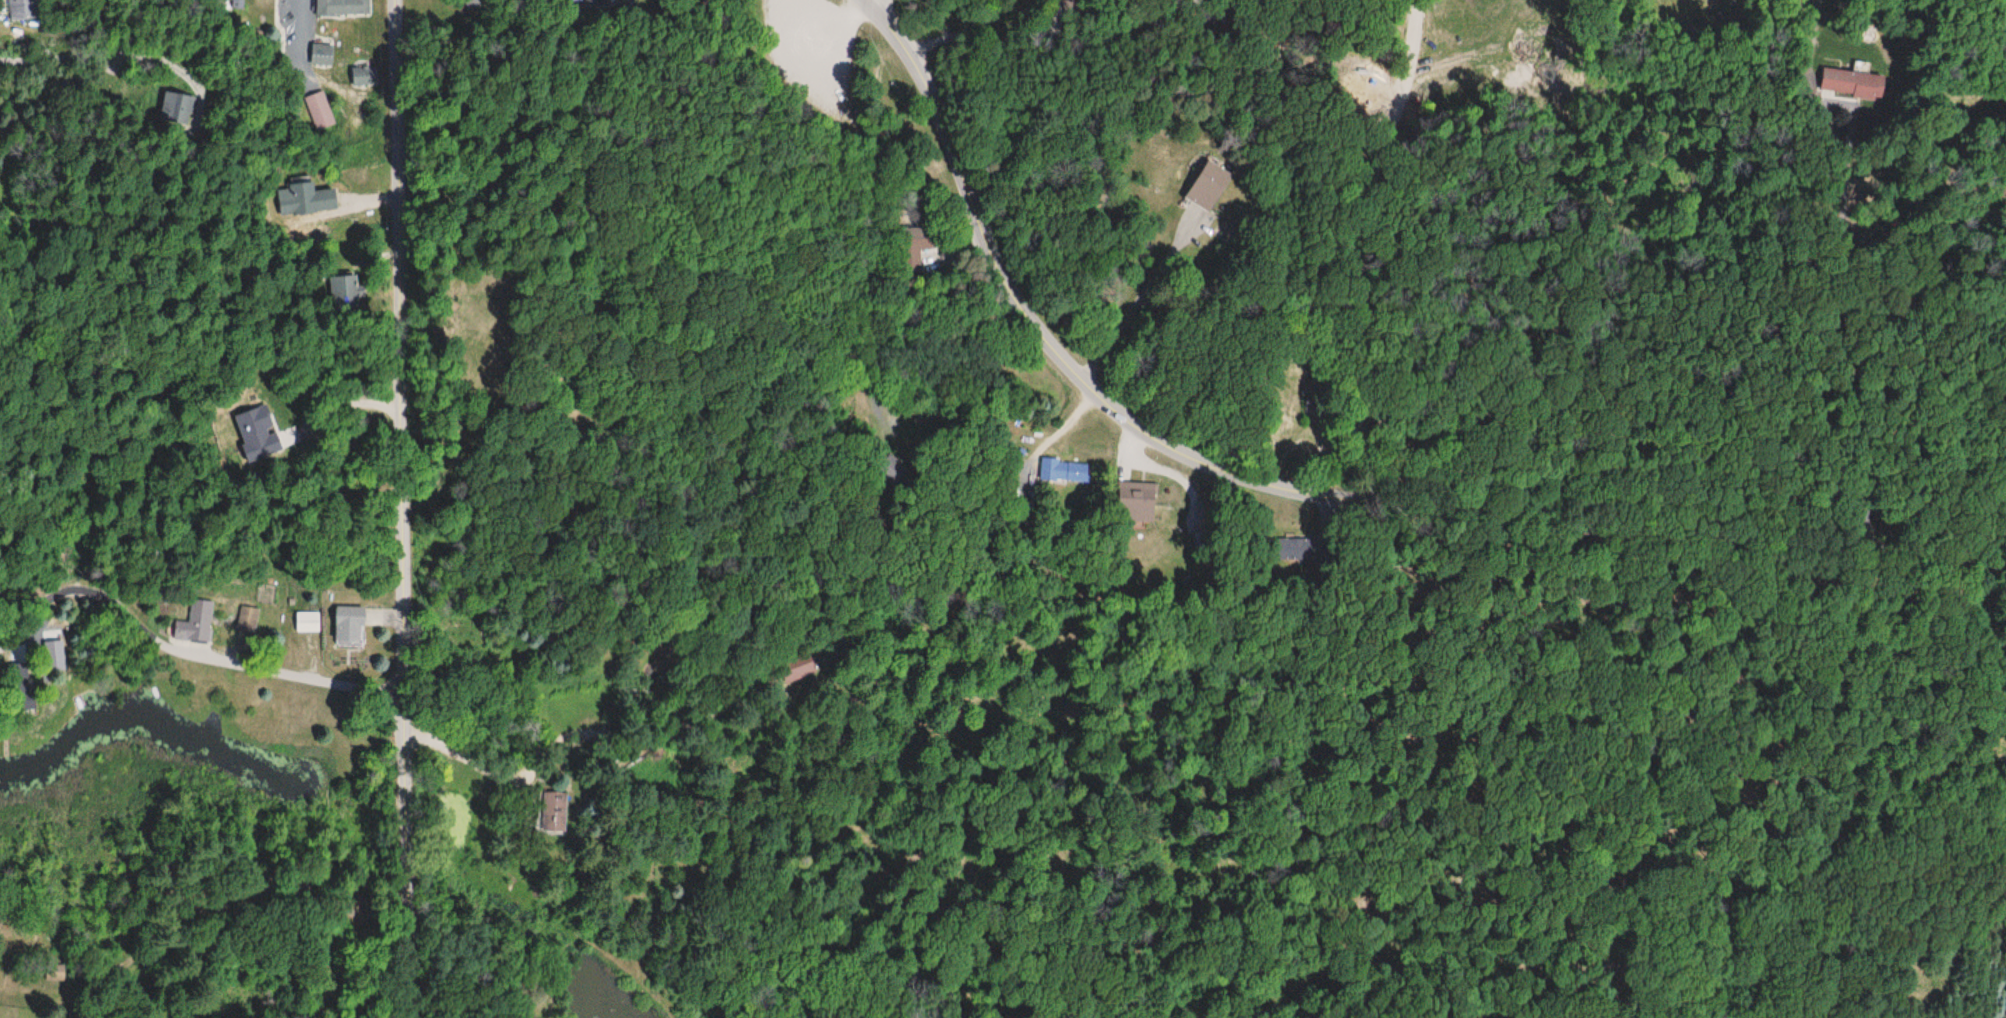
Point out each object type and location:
building: (231, 0)
road: (877, 3)
building: (472, 4)
building: (20, 8)
building: (341, 8)
parking lot: (815, 53)
building: (319, 55)
building: (362, 77)
building: (1849, 83)
building: (172, 110)
building: (318, 111)
building: (1205, 186)
building: (918, 243)
road: (1381, 251)
building: (340, 292)
park: (781, 296)
building: (1317, 392)
building: (1062, 471)
building: (1132, 495)
road: (1307, 497)
road: (395, 509)
building: (1293, 548)
building: (193, 623)
building: (306, 623)
building: (345, 626)
road: (177, 648)
building: (799, 671)
building: (16, 688)
building: (551, 812)

